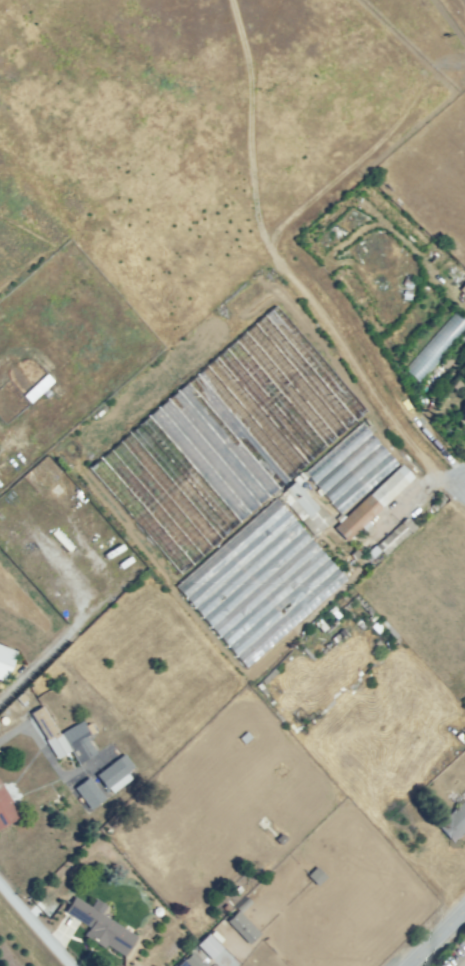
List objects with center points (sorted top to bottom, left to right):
building: (450, 276)
building: (243, 298)
building: (436, 347)
road: (364, 381)
building: (36, 387)
building: (461, 413)
building: (214, 440)
building: (349, 467)
building: (44, 477)
road: (463, 478)
building: (373, 505)
building: (303, 506)
road: (402, 506)
building: (393, 538)
building: (258, 583)
building: (324, 620)
building: (377, 625)
building: (385, 638)
building: (334, 639)
building: (4, 659)
building: (50, 732)
road: (35, 737)
building: (113, 770)
building: (88, 792)
building: (6, 808)
building: (454, 823)
building: (314, 875)
road: (34, 925)
building: (240, 926)
building: (99, 927)
road: (434, 935)
building: (207, 945)
crop: (449, 950)
building: (183, 964)
road: (463, 964)

